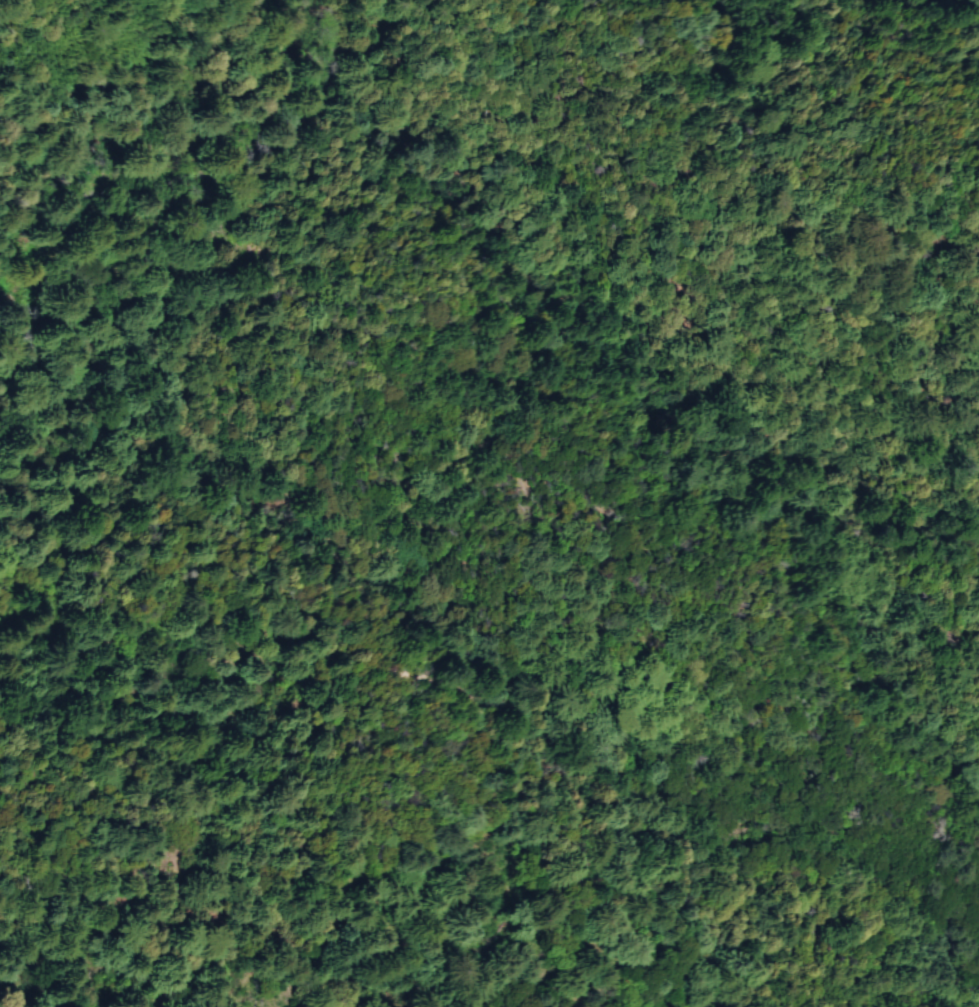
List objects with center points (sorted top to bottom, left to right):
road: (113, 271)

